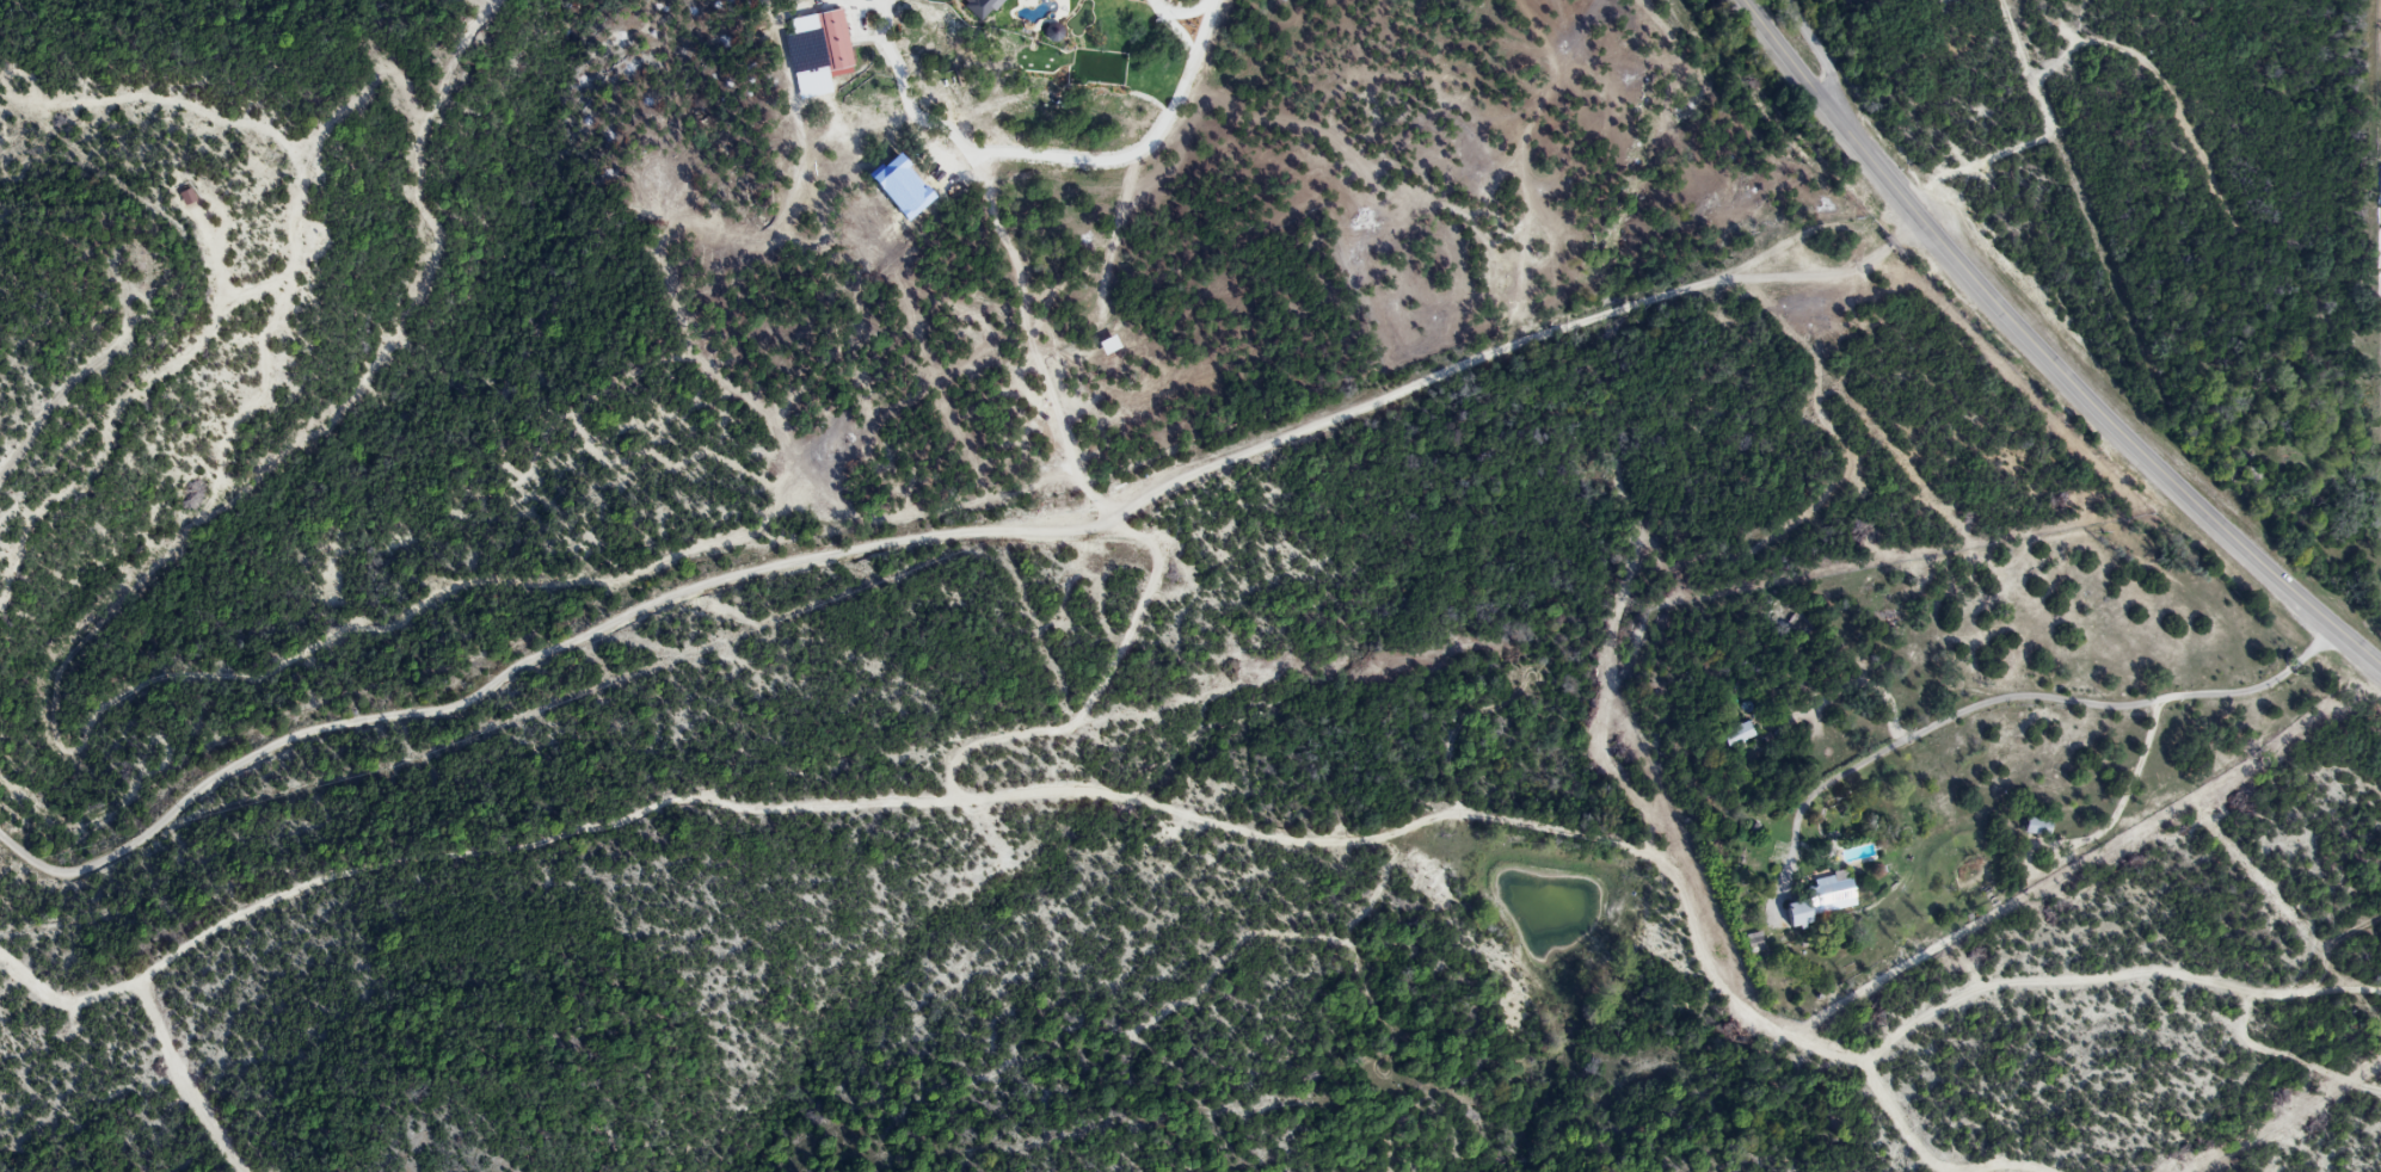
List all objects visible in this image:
road: (1182, 4)
road: (873, 30)
road: (1784, 36)
building: (829, 41)
road: (2039, 347)
road: (947, 532)
road: (2022, 697)
building: (1735, 736)
road: (2128, 788)
building: (2032, 826)
building: (1829, 893)
building: (1794, 914)

